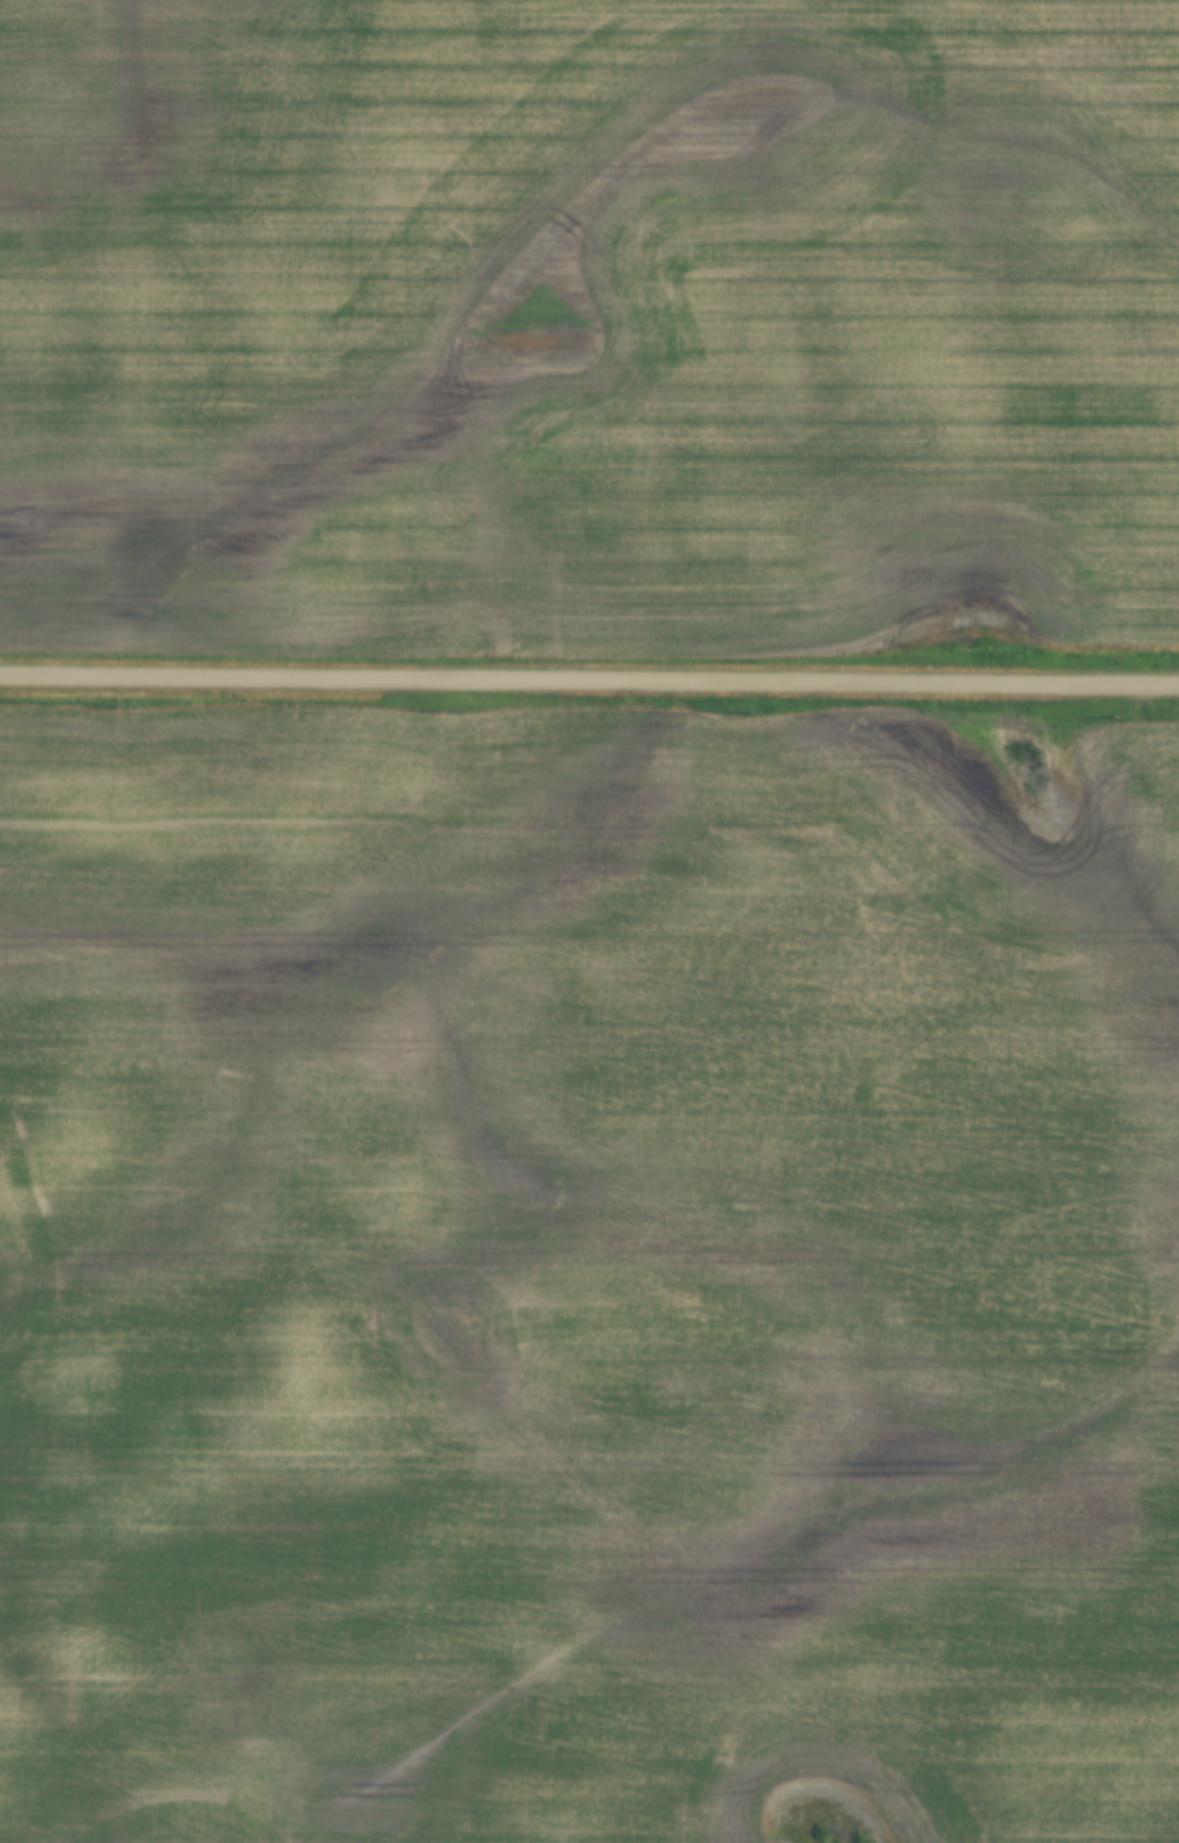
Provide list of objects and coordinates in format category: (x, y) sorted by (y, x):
road: (589, 683)

